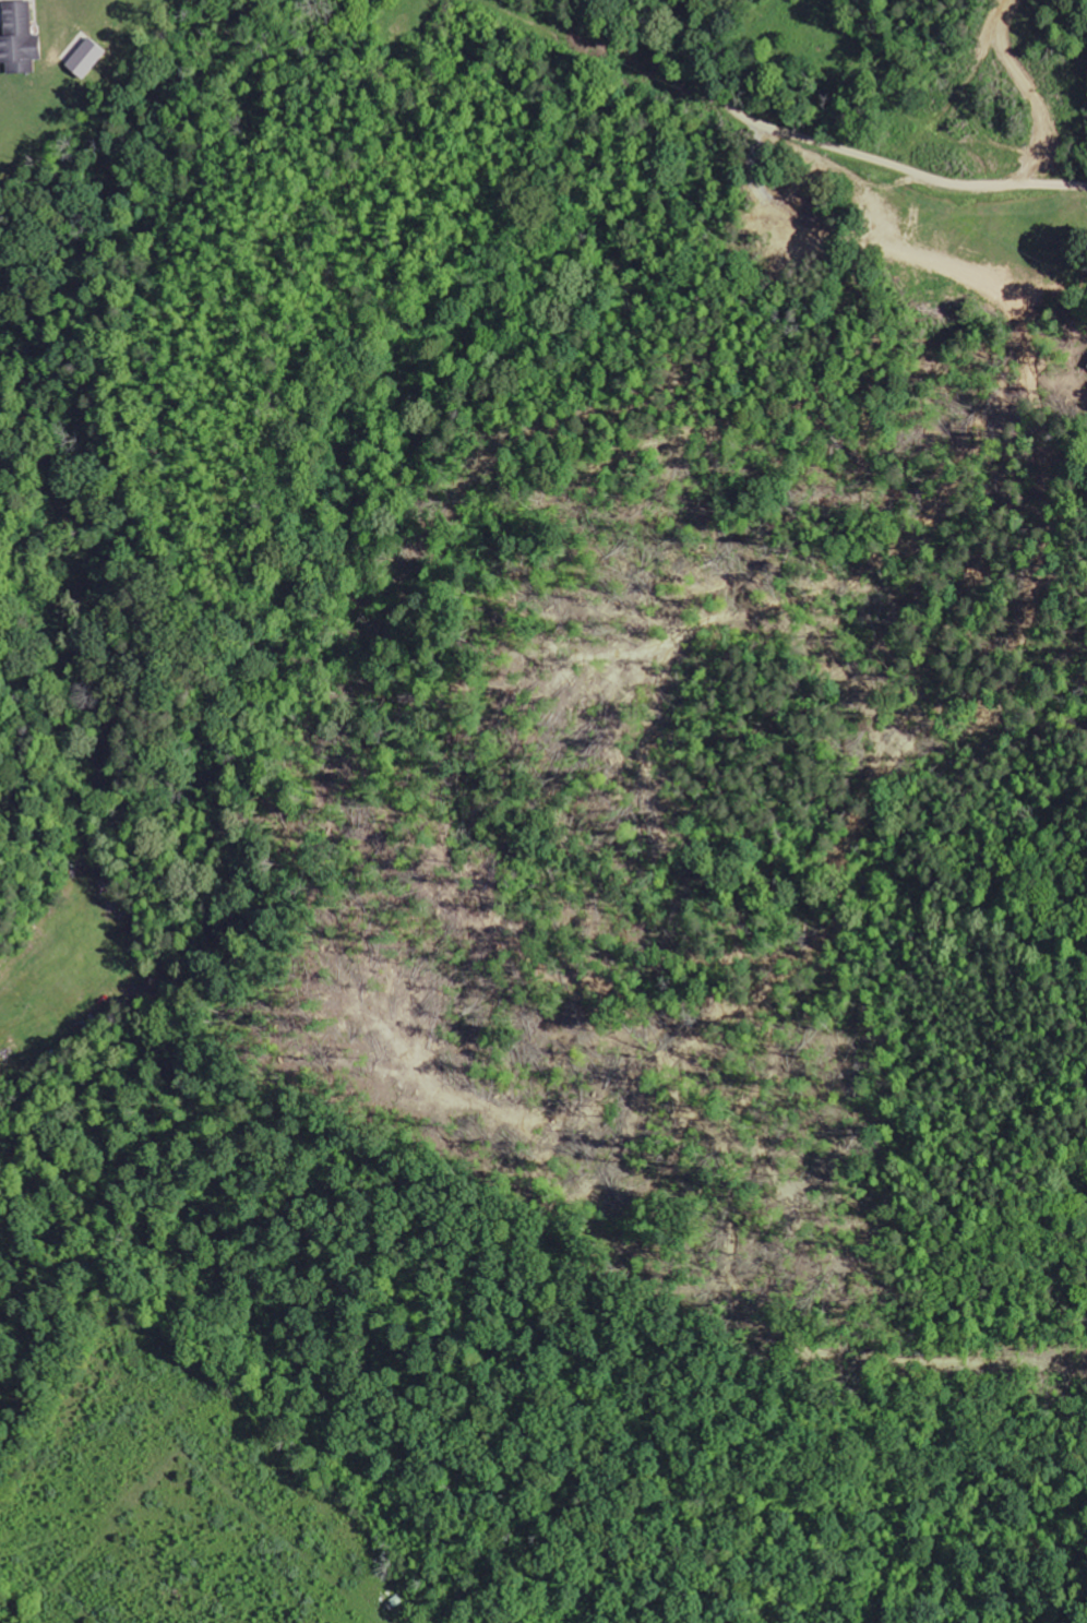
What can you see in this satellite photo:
building: (16, 39)
building: (83, 60)
road: (840, 150)

